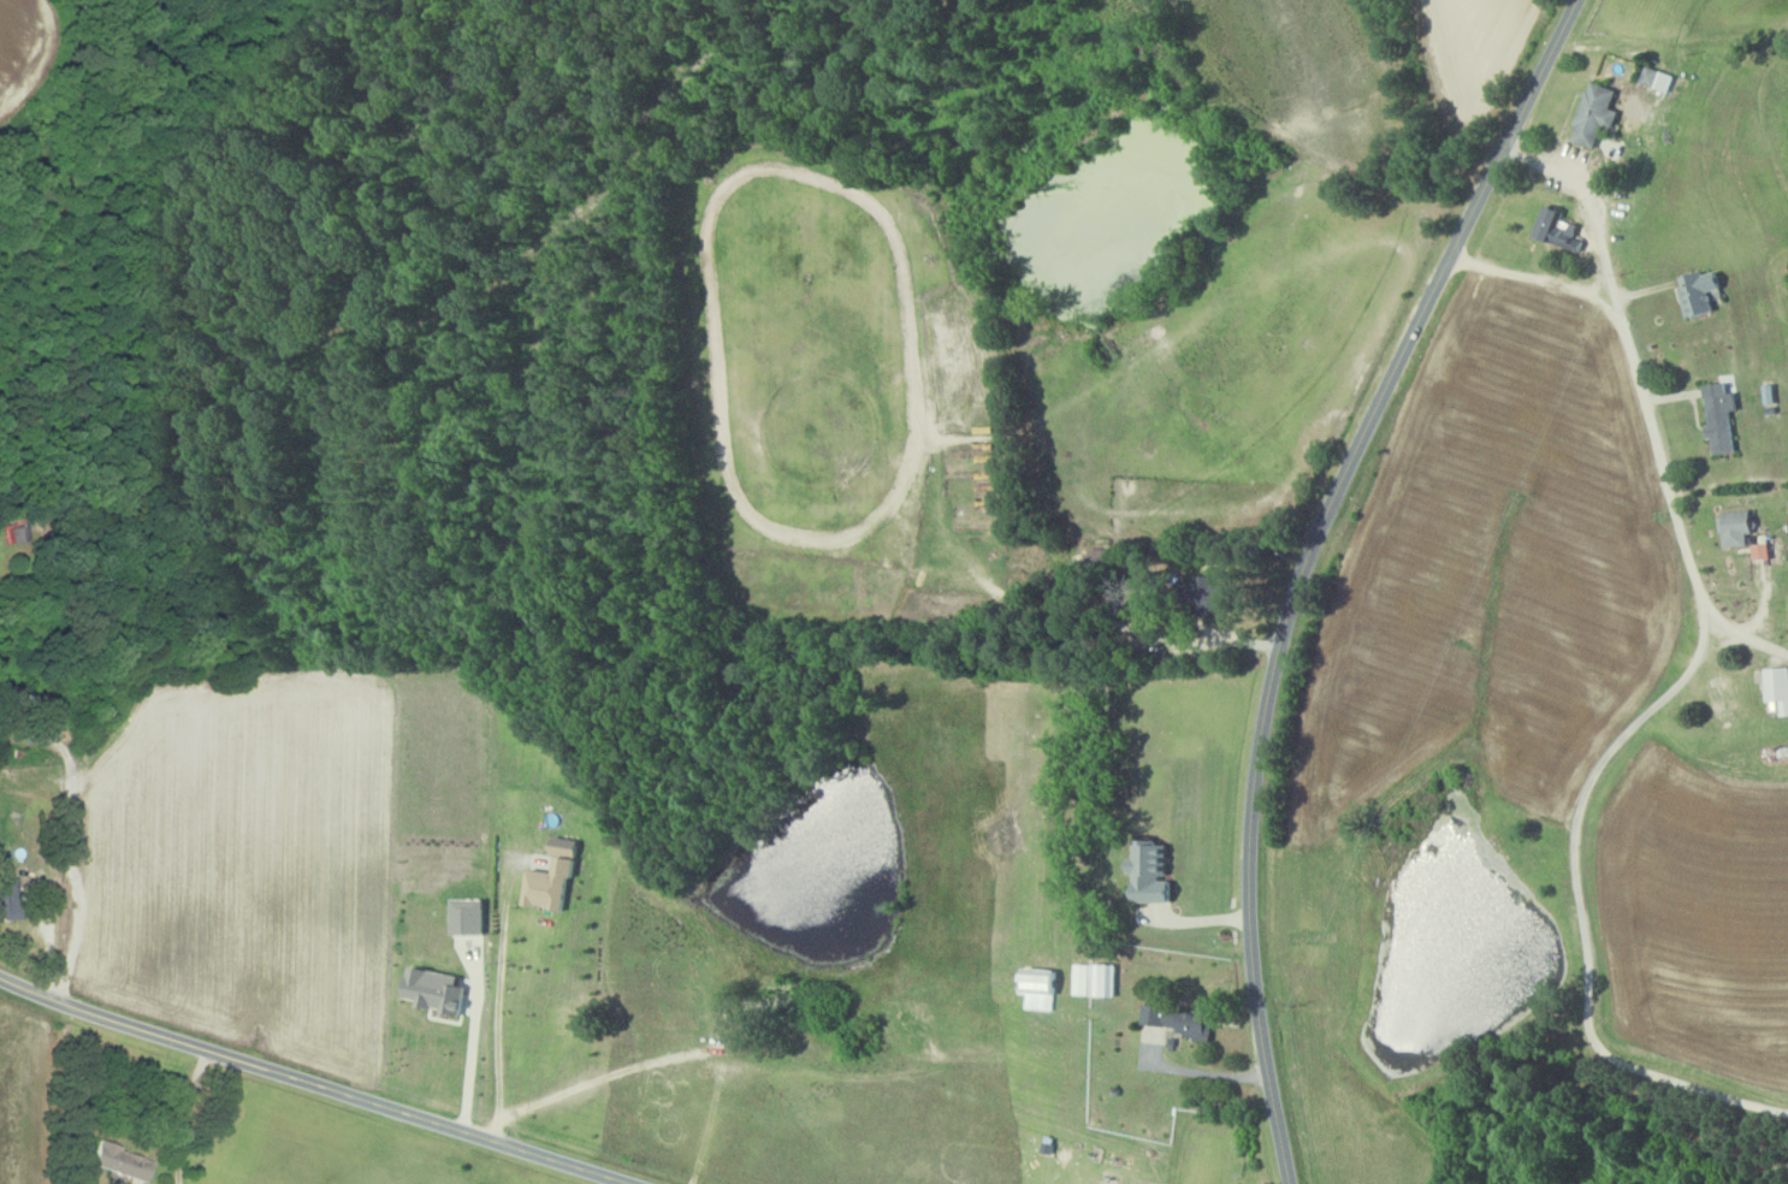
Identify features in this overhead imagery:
building: (1594, 114)
building: (1561, 229)
road: (1545, 282)
building: (1701, 291)
road: (1650, 397)
building: (1721, 419)
building: (1737, 527)
building: (14, 534)
building: (1763, 551)
road: (1303, 564)
building: (1212, 593)
building: (1778, 688)
building: (1153, 872)
building: (551, 884)
building: (7, 900)
road: (1581, 901)
building: (469, 917)
building: (1097, 981)
building: (1041, 989)
building: (437, 991)
road: (498, 1010)
building: (1182, 1020)
building: (1161, 1035)
road: (470, 1056)
road: (1206, 1072)
road: (312, 1087)
road: (178, 1115)
building: (120, 1162)

